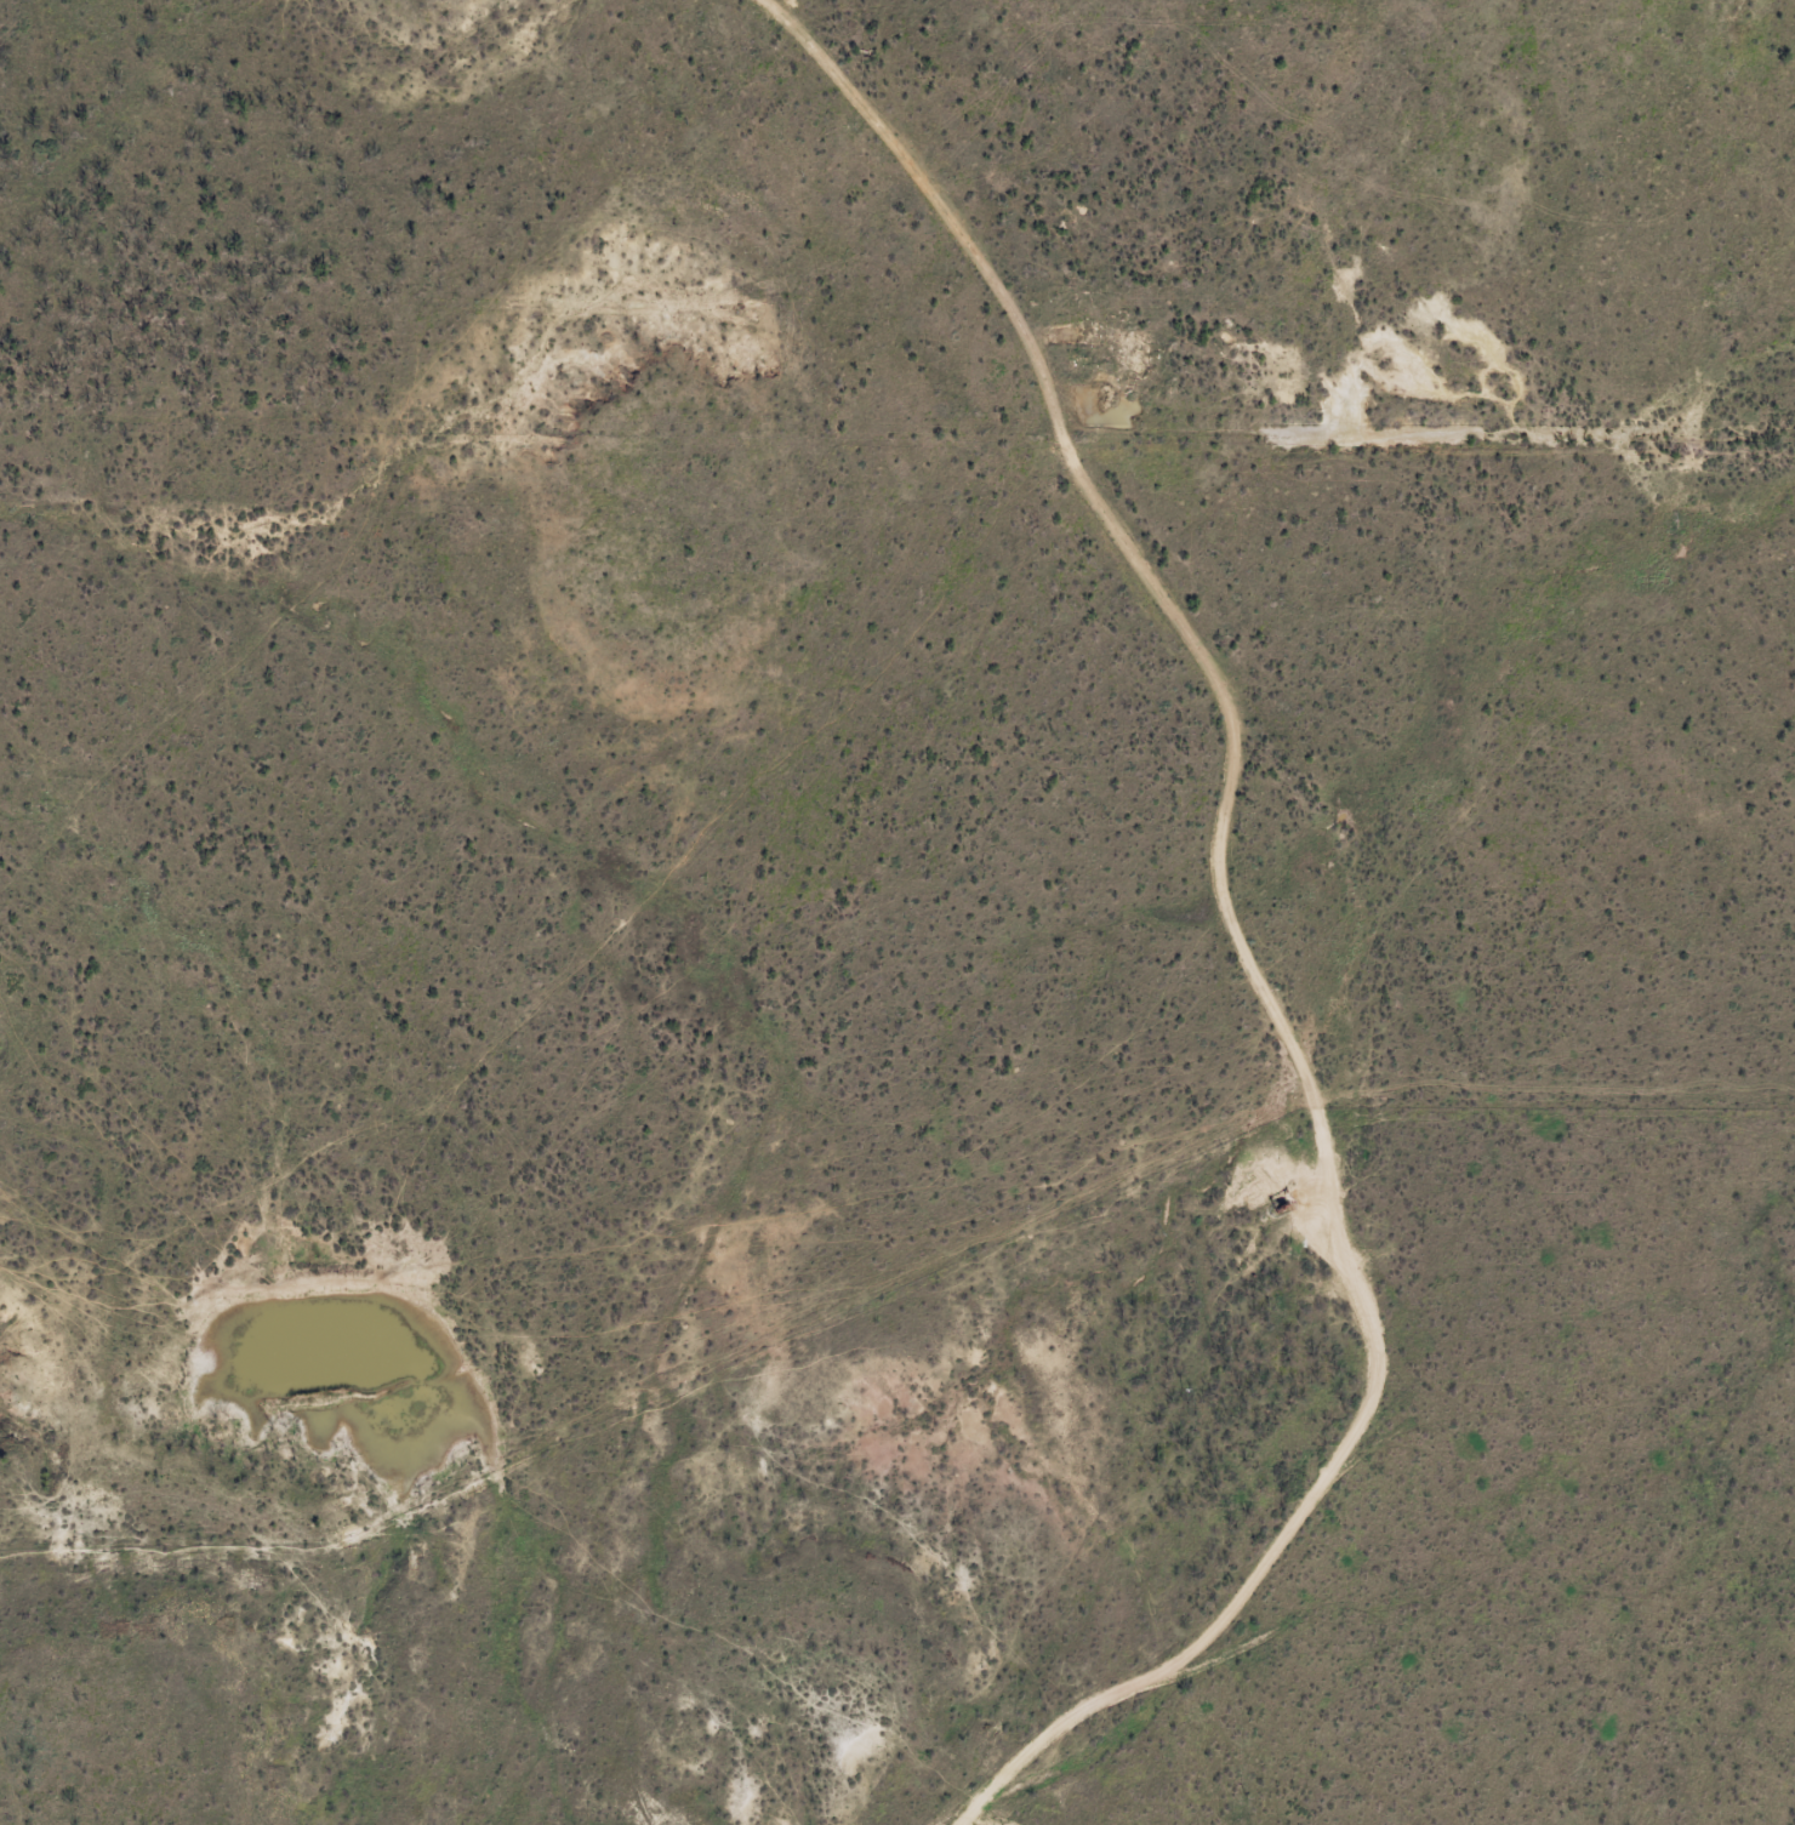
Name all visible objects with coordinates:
road: (1318, 892)

